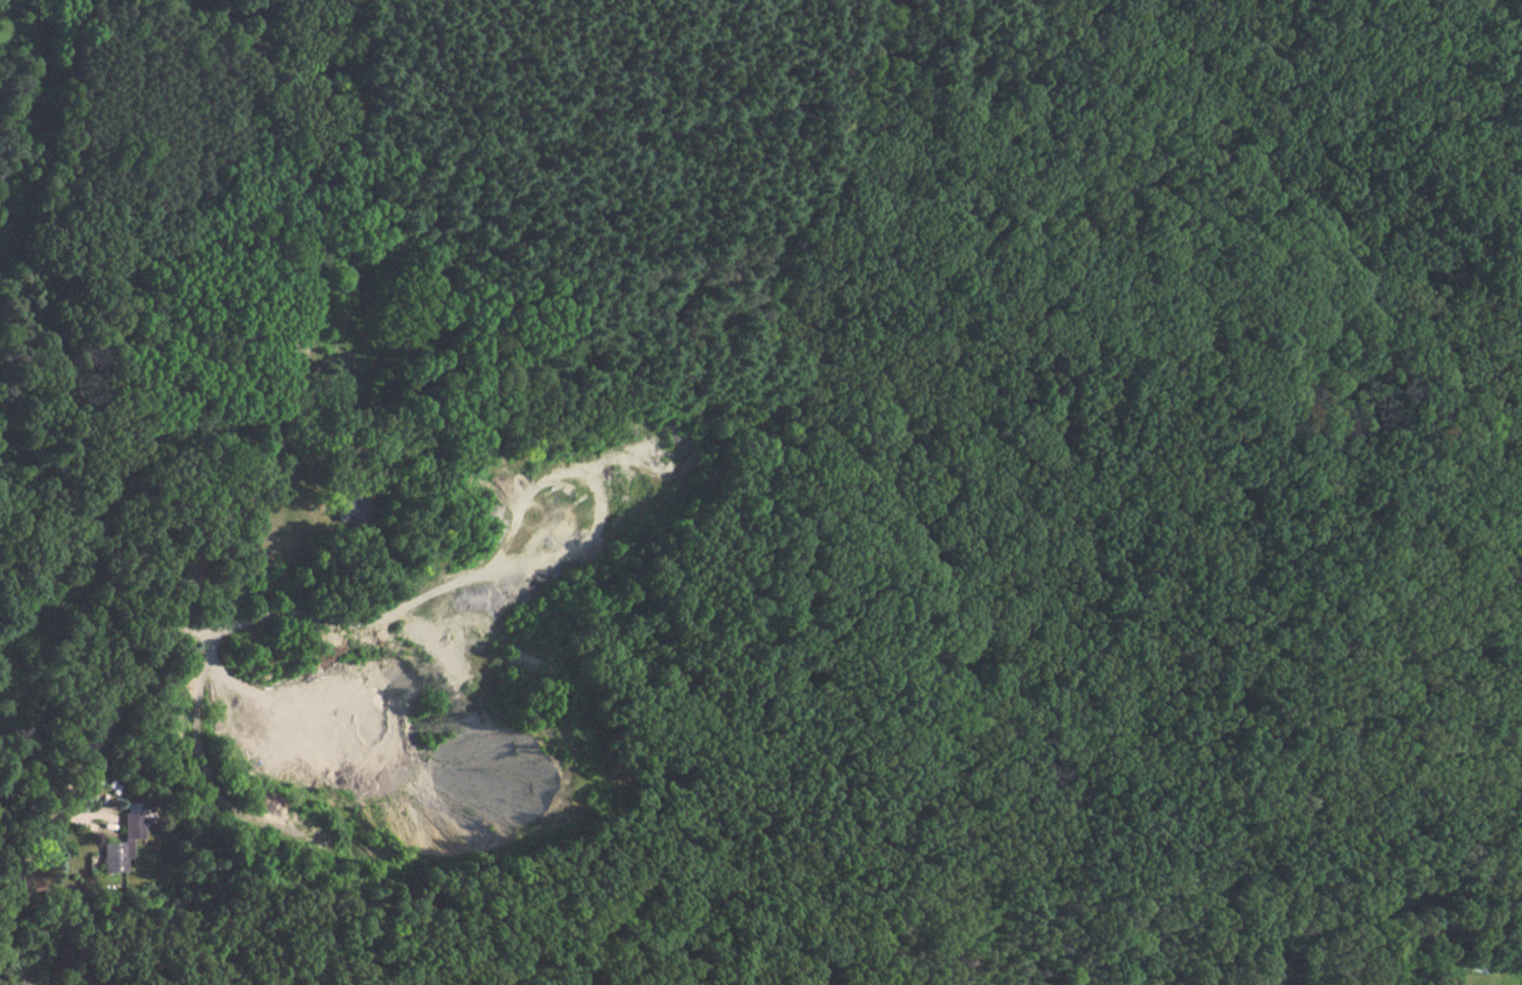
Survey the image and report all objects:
road: (696, 122)
road: (1330, 227)
park: (134, 279)
road: (245, 480)
building: (355, 503)
quarry: (440, 658)
road: (1268, 809)
building: (129, 842)
road: (1369, 920)

